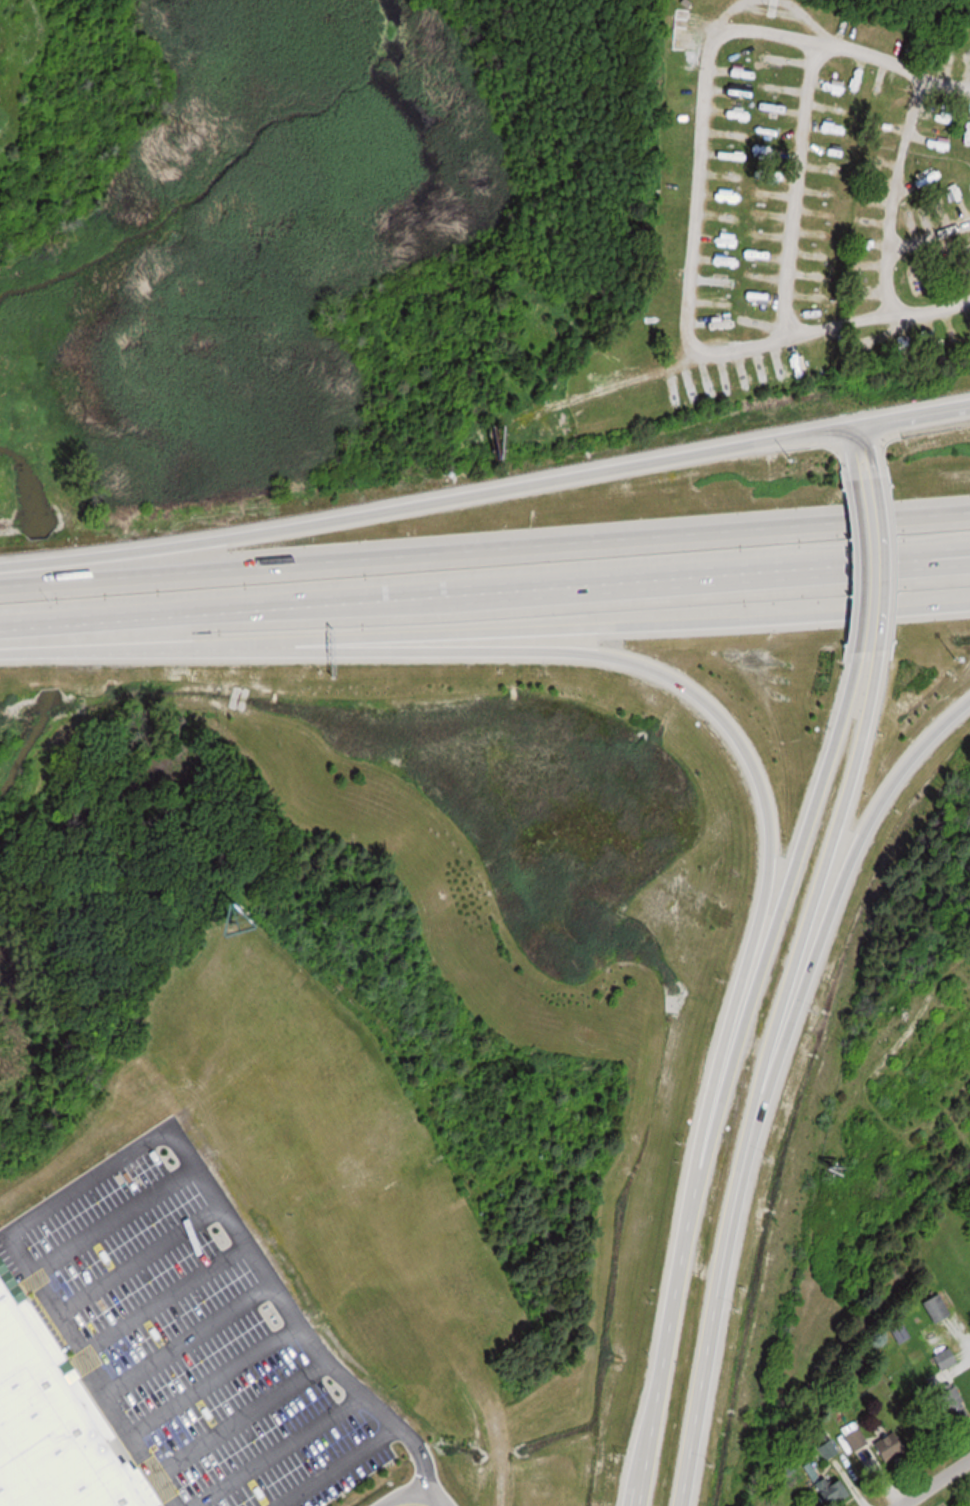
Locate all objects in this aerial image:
road: (945, 81)
road: (795, 187)
road: (928, 237)
building: (968, 251)
road: (688, 306)
road: (931, 307)
building: (867, 339)
road: (876, 456)
road: (855, 457)
road: (485, 496)
building: (869, 497)
road: (485, 551)
road: (871, 571)
road: (891, 571)
road: (484, 595)
road: (485, 632)
road: (640, 662)
road: (845, 872)
road: (722, 1075)
road: (768, 1077)
road: (131, 1135)
building: (129, 1146)
building: (948, 1357)
building: (955, 1404)
building: (52, 1422)
building: (893, 1447)
road: (932, 1481)
building: (841, 1492)
road: (404, 1499)

